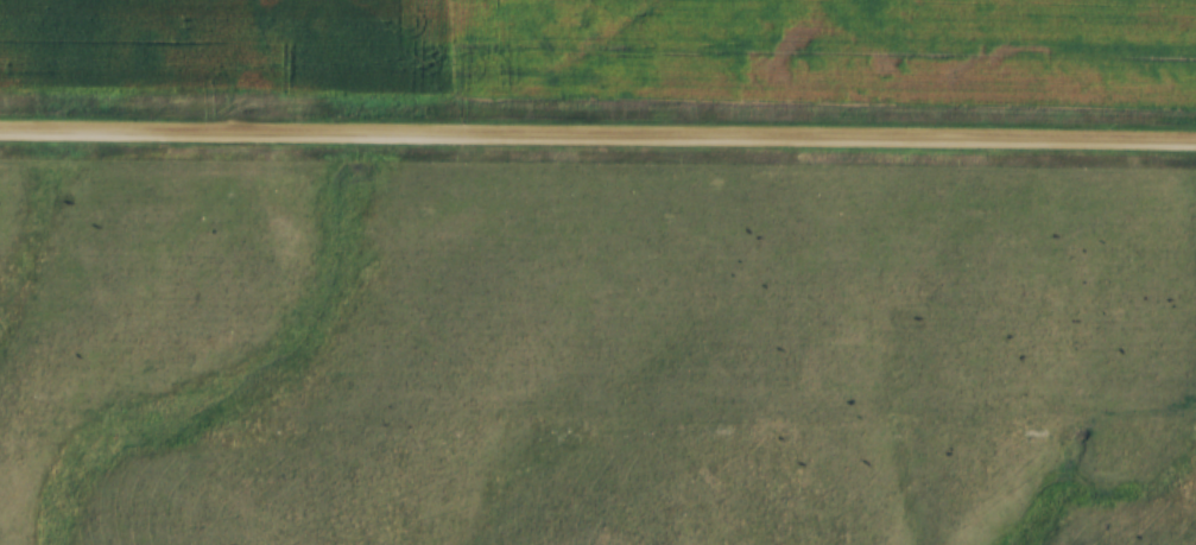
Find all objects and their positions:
road: (597, 139)

